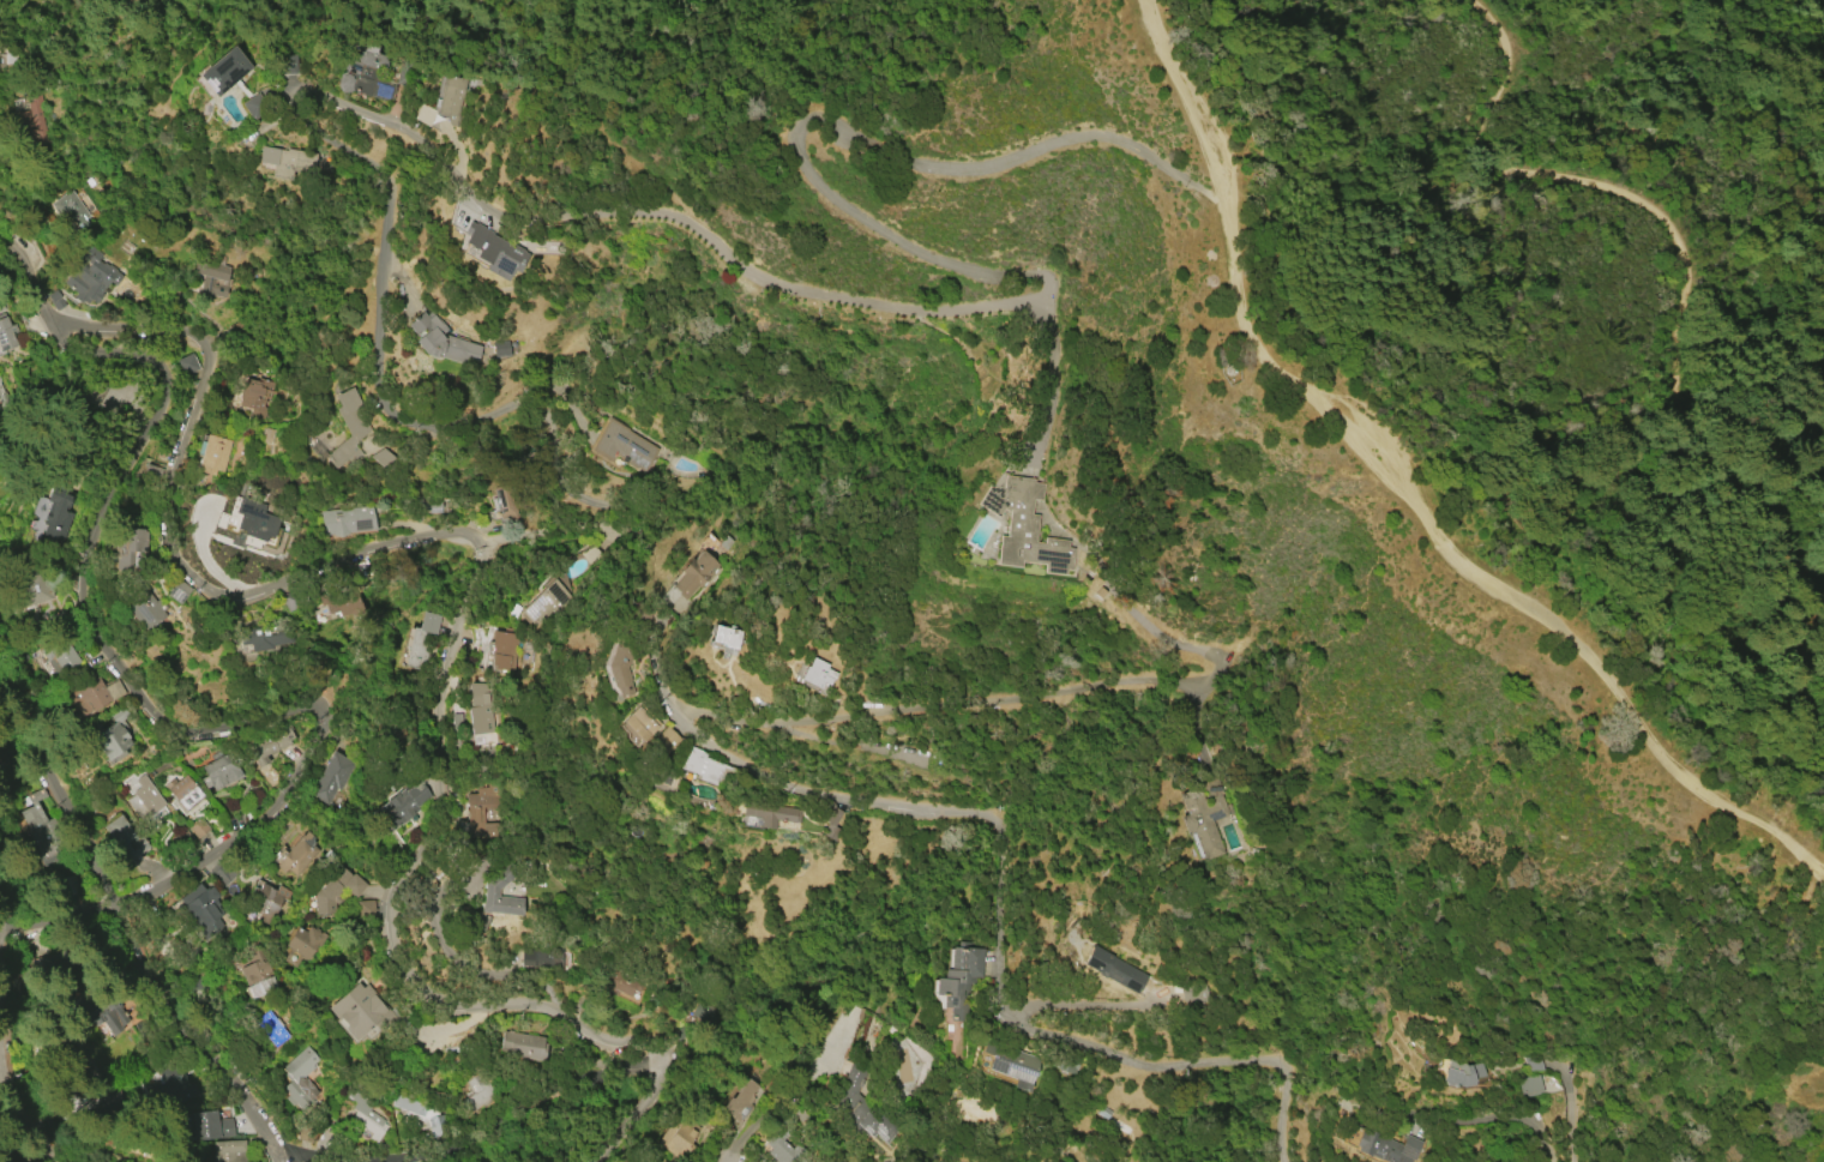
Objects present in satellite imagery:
building: (134, 5)
building: (287, 64)
building: (223, 71)
building: (365, 76)
building: (451, 97)
road: (1734, 101)
building: (423, 115)
building: (32, 122)
building: (285, 161)
building: (70, 209)
road: (639, 215)
road: (1681, 229)
building: (493, 249)
building: (209, 277)
building: (90, 278)
building: (6, 335)
building: (440, 339)
building: (500, 348)
building: (189, 368)
road: (1061, 373)
building: (251, 395)
building: (106, 396)
road: (1464, 398)
building: (353, 420)
building: (625, 445)
building: (212, 454)
building: (153, 476)
road: (177, 488)
road: (1407, 488)
building: (59, 510)
building: (216, 517)
building: (347, 519)
building: (248, 523)
building: (1024, 525)
building: (131, 549)
building: (694, 573)
building: (32, 589)
building: (546, 602)
building: (143, 604)
building: (338, 606)
road: (1152, 630)
building: (724, 636)
building: (260, 638)
building: (420, 640)
building: (502, 650)
building: (59, 656)
building: (621, 666)
building: (815, 674)
building: (92, 696)
road: (1047, 696)
building: (481, 706)
road: (177, 723)
road: (773, 723)
building: (639, 724)
road: (378, 733)
building: (110, 734)
building: (666, 740)
building: (272, 748)
building: (700, 766)
building: (219, 771)
building: (331, 777)
building: (664, 777)
building: (181, 790)
building: (143, 797)
building: (401, 806)
building: (771, 813)
building: (1202, 817)
building: (482, 818)
building: (41, 823)
building: (198, 827)
building: (125, 837)
building: (296, 855)
building: (493, 885)
building: (335, 891)
road: (392, 895)
building: (266, 903)
building: (199, 908)
building: (365, 908)
road: (113, 922)
road: (1001, 933)
building: (302, 945)
building: (536, 959)
building: (258, 970)
building: (1115, 970)
building: (959, 980)
building: (618, 981)
building: (101, 1011)
building: (362, 1012)
building: (272, 1028)
building: (872, 1034)
road: (5, 1042)
building: (522, 1046)
building: (1011, 1064)
building: (1461, 1073)
building: (299, 1080)
building: (1531, 1084)
building: (174, 1085)
building: (480, 1090)
building: (741, 1098)
road: (526, 1102)
building: (407, 1104)
building: (860, 1108)
road: (781, 1113)
building: (363, 1115)
road: (637, 1115)
road: (1564, 1118)
road: (1495, 1120)
building: (205, 1125)
building: (680, 1137)
building: (1384, 1146)
building: (785, 1148)
building: (228, 1151)
building: (11, 1157)
road: (732, 1158)
road: (327, 1160)

